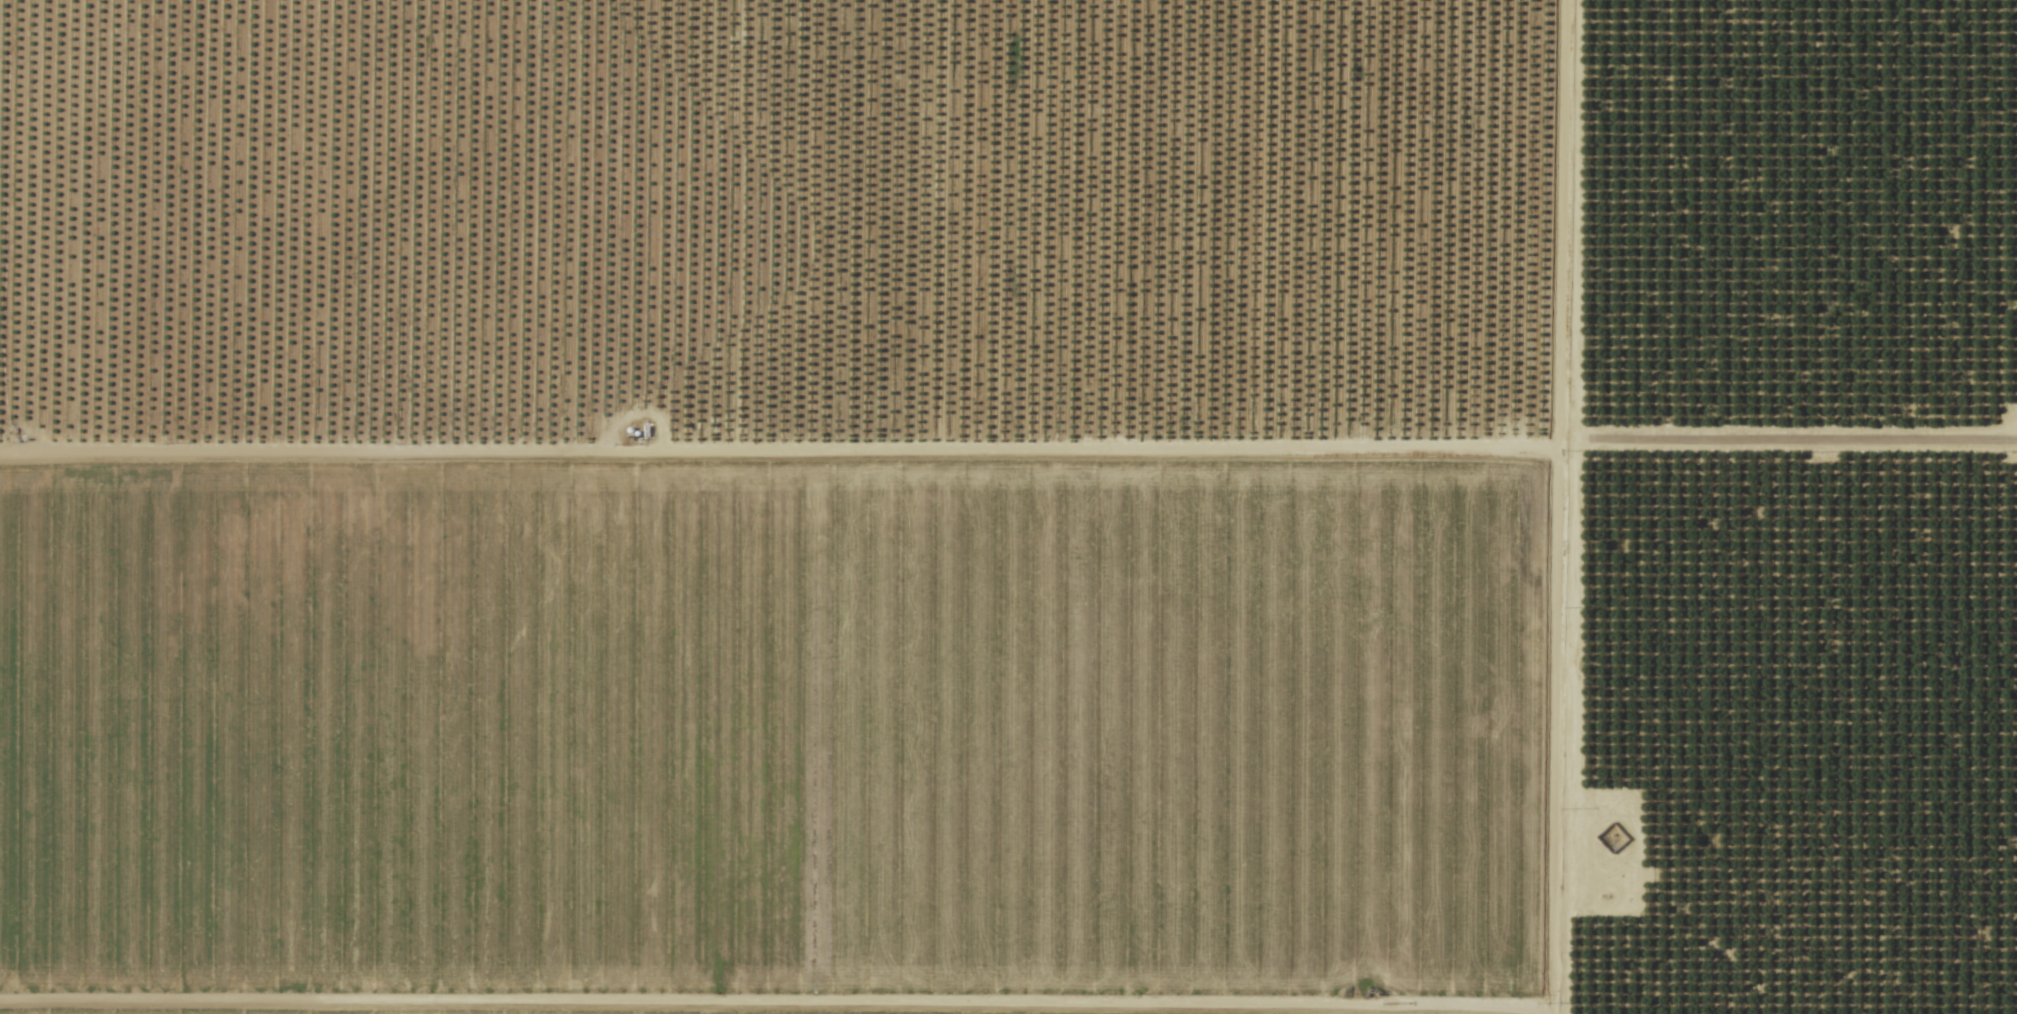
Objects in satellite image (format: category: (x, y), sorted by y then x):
road: (1539, 732)
crop: (792, 737)

